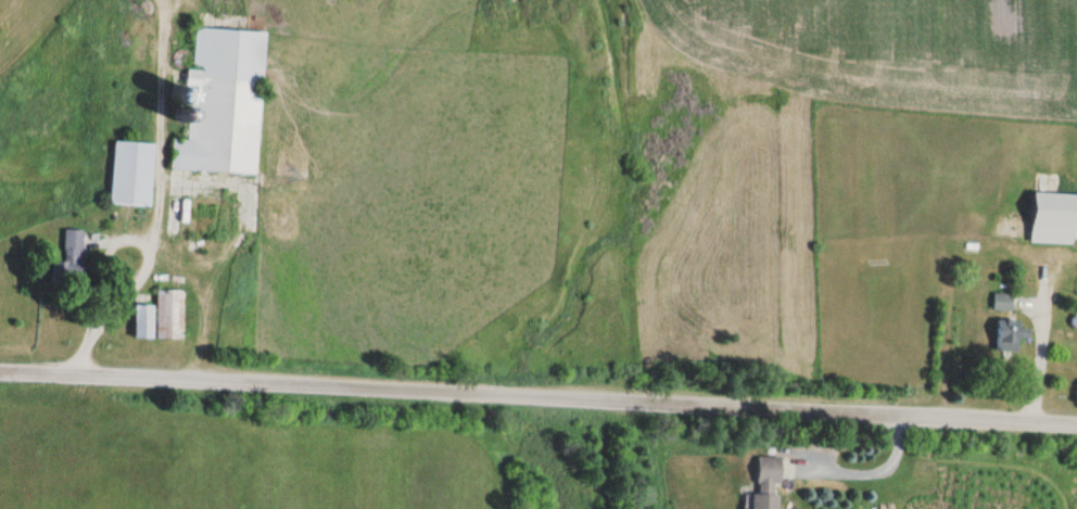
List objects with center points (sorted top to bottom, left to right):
building: (226, 103)
building: (134, 174)
building: (1055, 219)
building: (1003, 303)
building: (162, 317)
building: (1010, 334)
road: (538, 395)
building: (768, 482)

